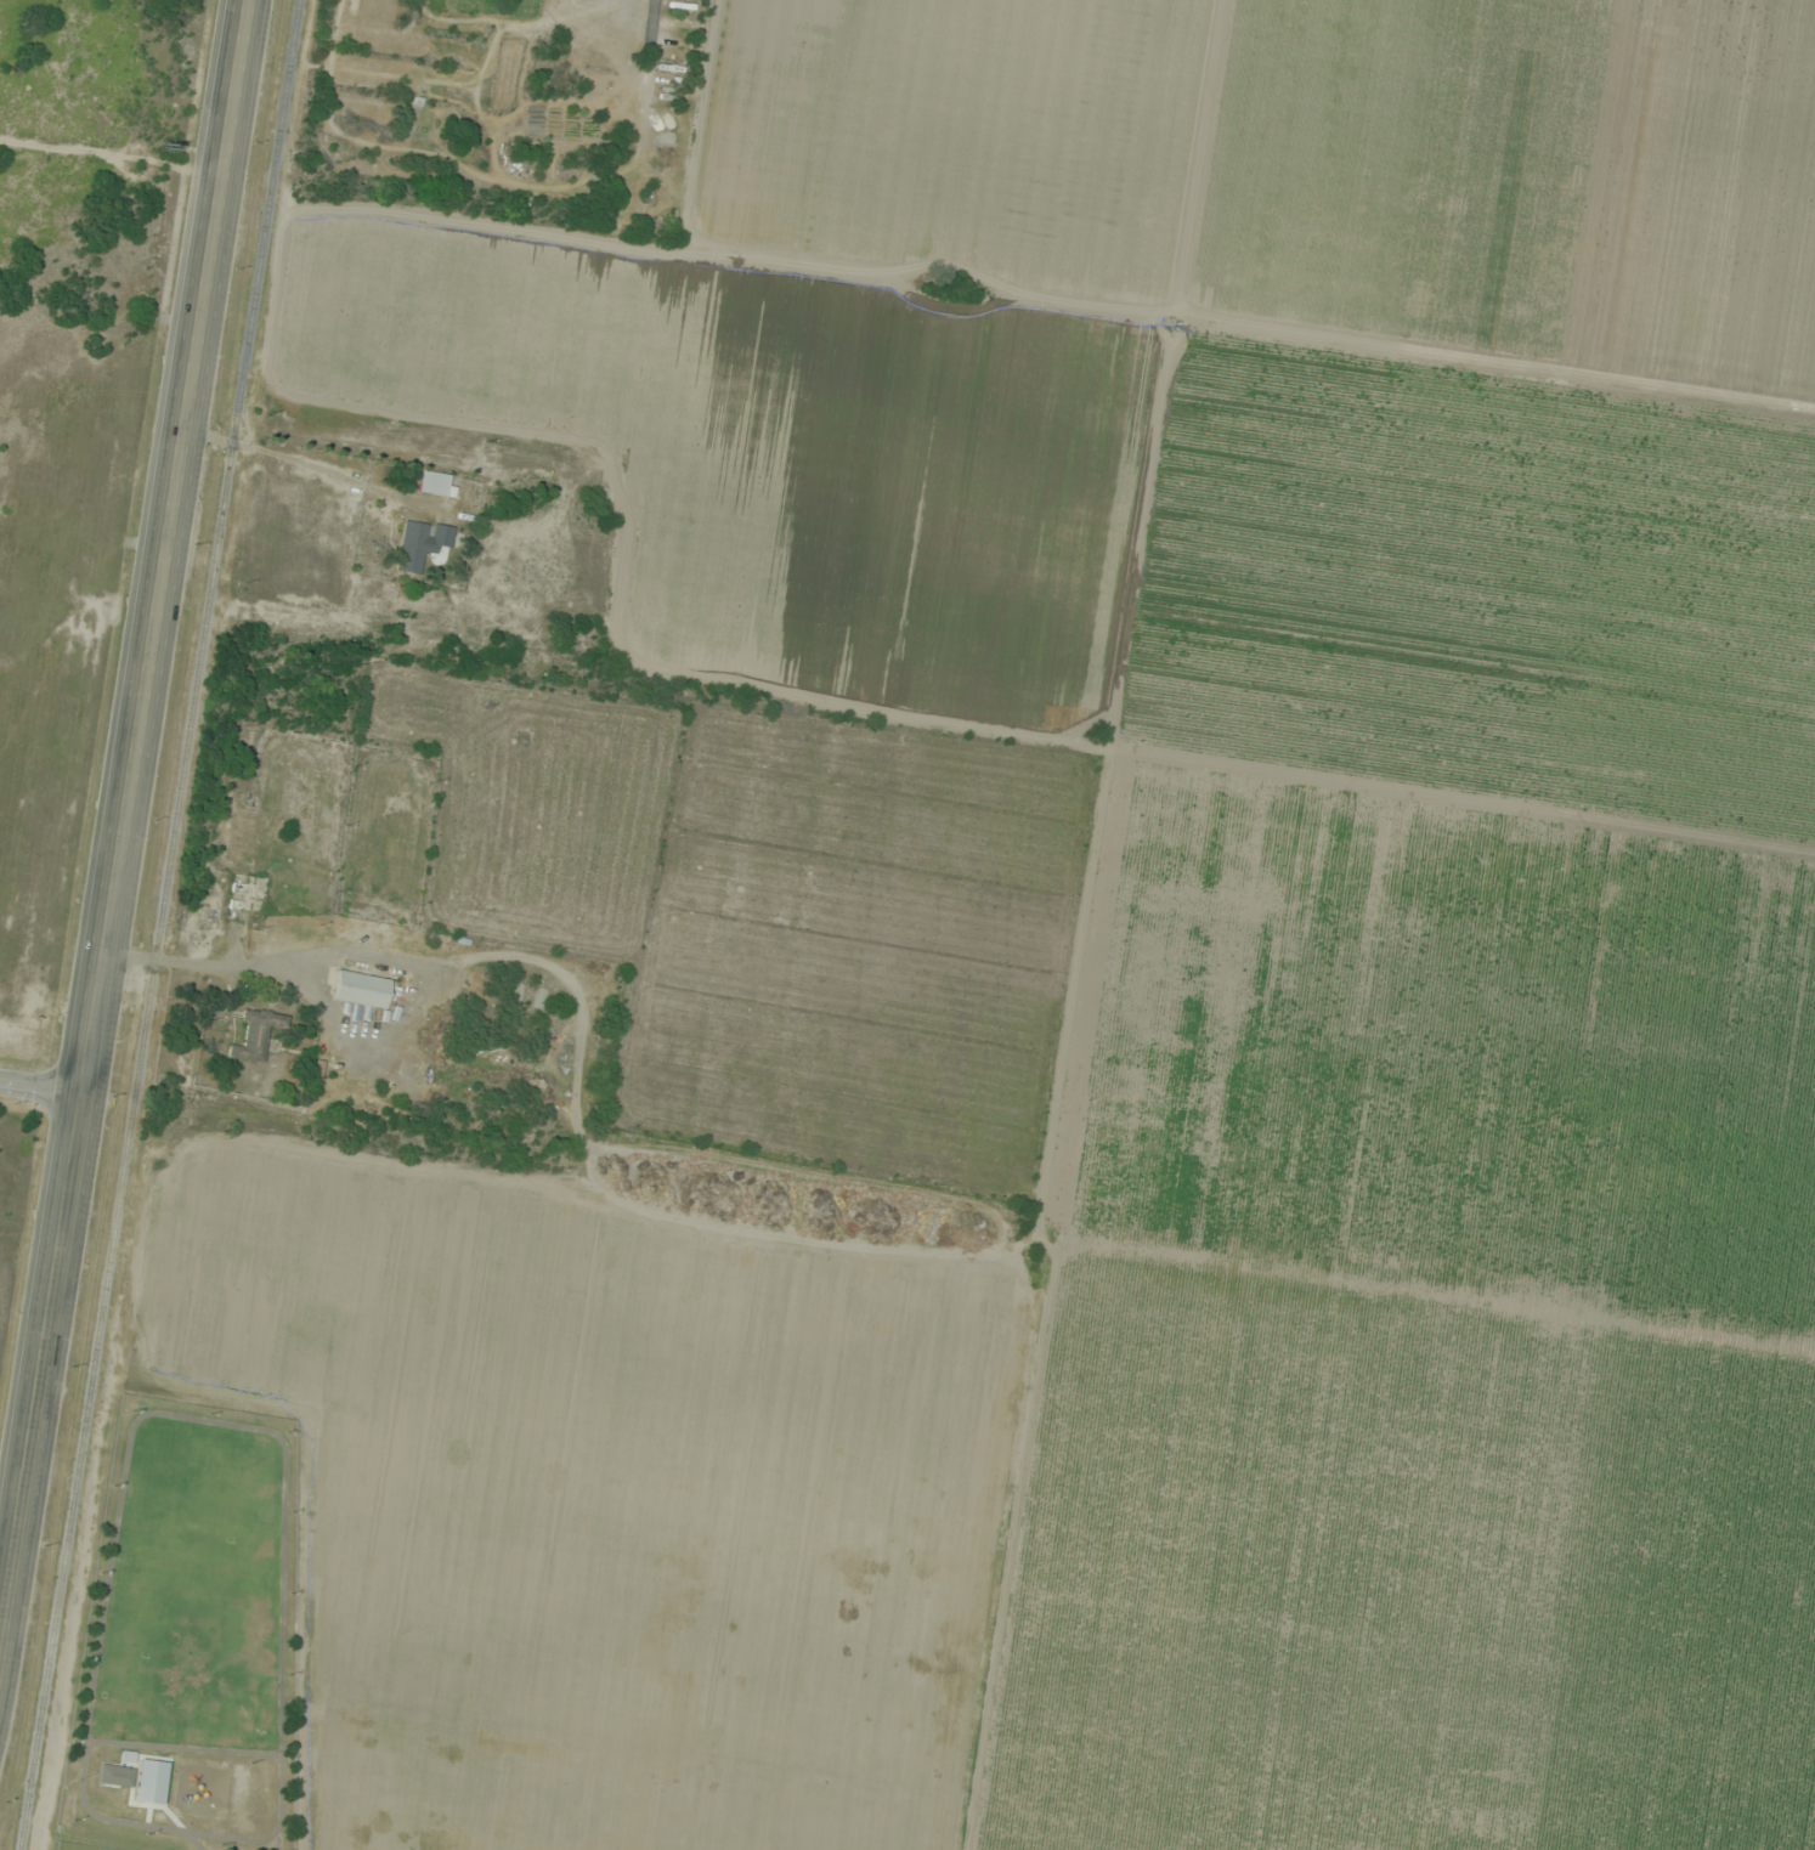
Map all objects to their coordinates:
road: (652, 22)
building: (435, 485)
building: (428, 543)
road: (128, 830)
building: (232, 832)
railway: (158, 924)
building: (360, 989)
building: (256, 1033)
road: (41, 1111)
building: (115, 1775)
building: (151, 1781)

